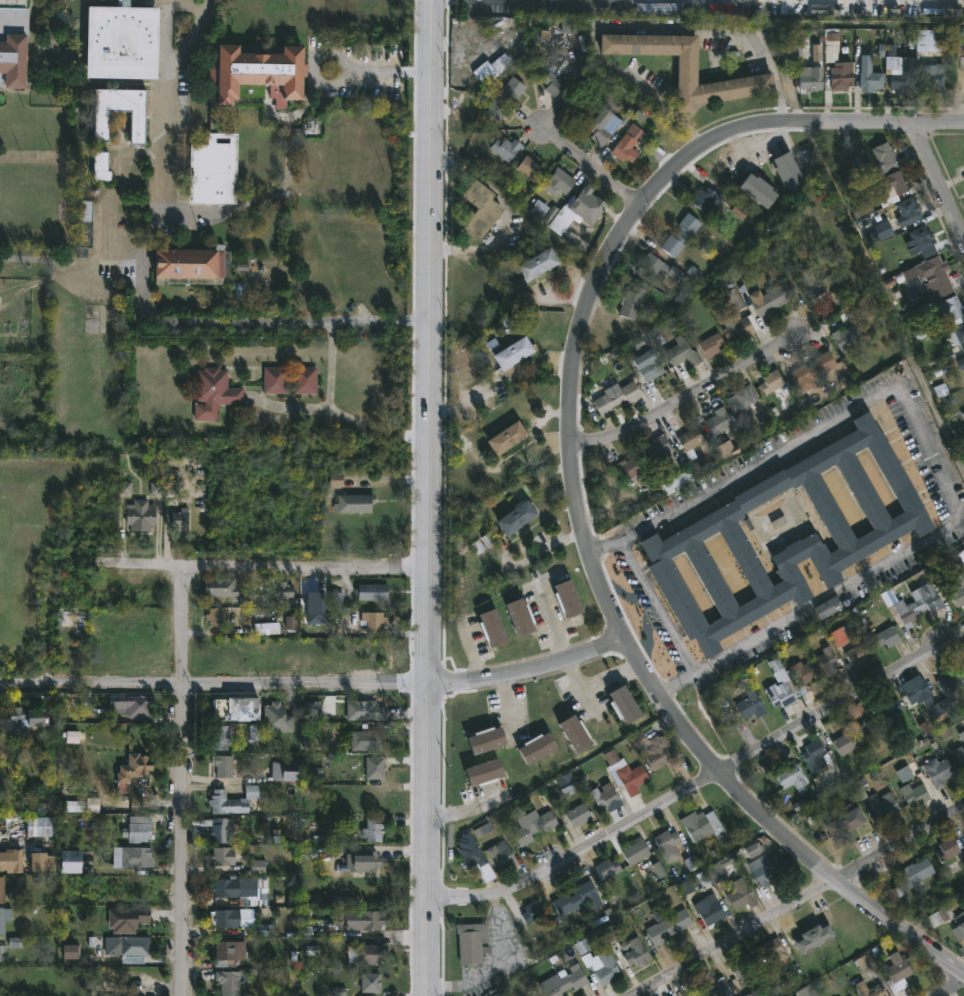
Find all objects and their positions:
road: (642, 0)
road: (931, 15)
road: (167, 24)
road: (636, 28)
building: (121, 40)
building: (12, 42)
building: (960, 43)
building: (931, 59)
building: (688, 67)
building: (492, 68)
building: (870, 74)
building: (842, 75)
building: (905, 76)
building: (811, 78)
building: (553, 85)
building: (506, 97)
building: (577, 105)
building: (211, 120)
road: (937, 122)
road: (759, 123)
building: (100, 127)
building: (602, 127)
road: (287, 139)
building: (627, 144)
building: (505, 147)
building: (885, 158)
building: (100, 166)
building: (528, 169)
road: (591, 169)
building: (789, 170)
road: (937, 179)
building: (559, 182)
building: (892, 185)
building: (759, 189)
building: (705, 199)
building: (863, 209)
building: (480, 210)
building: (576, 212)
building: (907, 213)
building: (84, 227)
building: (681, 234)
road: (963, 234)
building: (879, 235)
building: (924, 240)
building: (192, 262)
building: (539, 264)
building: (658, 267)
building: (936, 276)
building: (811, 281)
road: (141, 296)
road: (884, 297)
building: (773, 298)
building: (0, 299)
building: (630, 303)
building: (952, 309)
building: (739, 325)
building: (846, 337)
building: (956, 337)
road: (429, 343)
building: (709, 343)
building: (683, 353)
building: (514, 356)
building: (650, 365)
road: (331, 366)
building: (808, 372)
building: (306, 379)
building: (275, 380)
building: (772, 382)
building: (217, 394)
road: (687, 396)
building: (616, 398)
building: (745, 408)
road: (345, 416)
road: (572, 419)
building: (718, 421)
building: (507, 438)
building: (691, 439)
building: (656, 447)
building: (725, 451)
road: (930, 451)
building: (631, 468)
building: (676, 483)
building: (352, 504)
building: (518, 512)
building: (138, 516)
building: (177, 522)
building: (883, 536)
road: (270, 570)
building: (218, 586)
building: (371, 591)
building: (958, 592)
building: (253, 599)
building: (568, 599)
building: (829, 607)
building: (917, 607)
road: (661, 609)
building: (214, 616)
building: (521, 618)
building: (372, 619)
building: (75, 628)
building: (492, 629)
building: (887, 637)
building: (858, 653)
building: (826, 660)
road: (529, 673)
building: (803, 675)
road: (214, 686)
building: (950, 686)
building: (779, 693)
building: (925, 699)
building: (624, 704)
building: (130, 705)
building: (749, 705)
building: (232, 708)
building: (888, 708)
building: (365, 710)
building: (23, 717)
building: (275, 717)
building: (962, 722)
building: (576, 732)
building: (219, 736)
building: (856, 737)
building: (487, 738)
building: (365, 740)
building: (538, 746)
building: (653, 749)
building: (960, 749)
building: (817, 754)
building: (221, 765)
building: (371, 767)
building: (283, 769)
building: (939, 770)
building: (485, 771)
building: (626, 772)
building: (131, 773)
building: (792, 775)
road: (185, 783)
road: (702, 783)
building: (916, 794)
building: (608, 796)
building: (231, 800)
building: (882, 806)
building: (579, 814)
building: (846, 822)
building: (532, 823)
building: (700, 824)
road: (774, 824)
building: (39, 827)
building: (135, 829)
building: (371, 829)
building: (218, 830)
road: (430, 841)
building: (668, 845)
building: (948, 849)
building: (635, 851)
building: (500, 853)
building: (474, 855)
building: (130, 857)
building: (221, 857)
building: (10, 860)
building: (361, 860)
building: (67, 861)
building: (38, 862)
building: (608, 868)
building: (764, 870)
building: (915, 871)
building: (135, 887)
building: (224, 887)
building: (0, 891)
building: (740, 896)
building: (578, 899)
road: (802, 899)
building: (533, 910)
building: (709, 911)
building: (3, 917)
building: (224, 918)
building: (125, 919)
building: (361, 920)
building: (960, 924)
building: (670, 926)
building: (816, 937)
building: (471, 942)
building: (123, 947)
building: (2, 950)
building: (635, 951)
building: (772, 951)
building: (223, 954)
building: (363, 956)
road: (499, 967)
building: (607, 968)
building: (744, 968)
building: (896, 971)
building: (226, 982)
building: (368, 982)
building: (567, 982)
road: (951, 988)
building: (715, 989)
building: (870, 989)
building: (808, 991)

